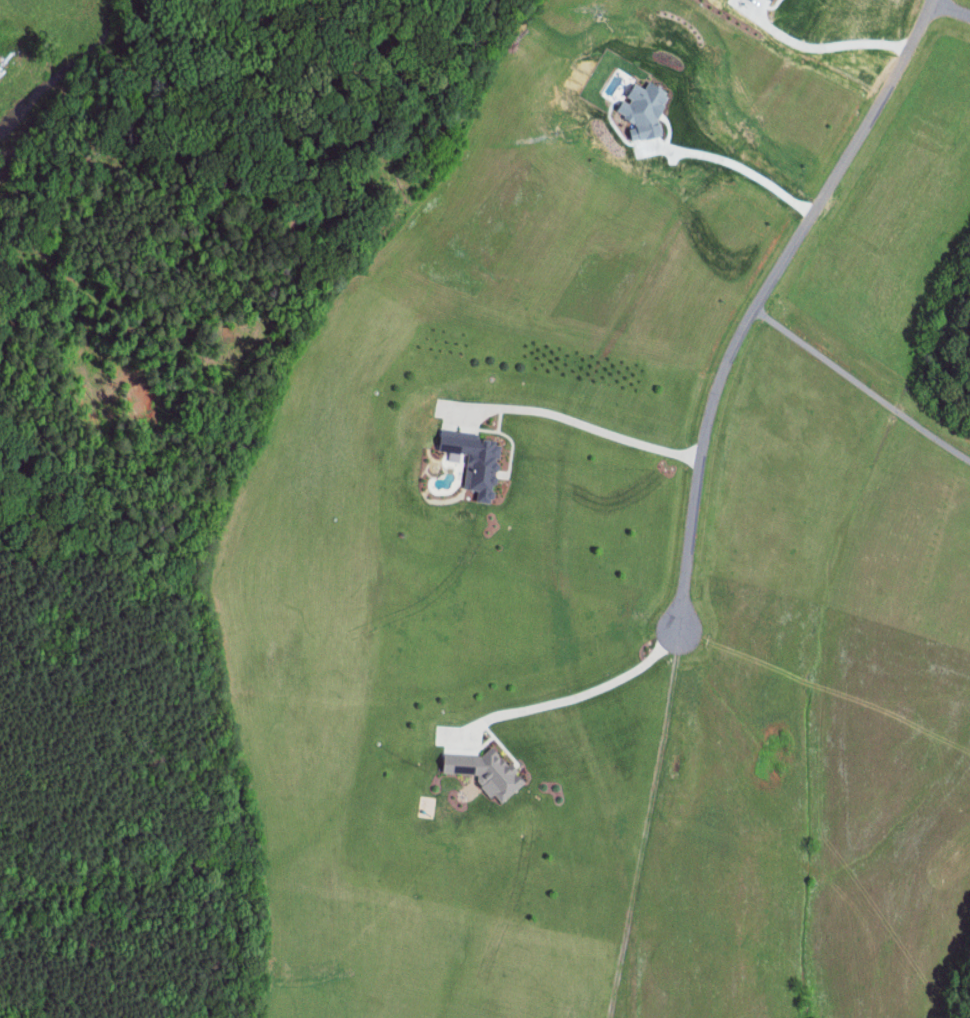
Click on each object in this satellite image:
building: (770, 0)
road: (950, 6)
road: (822, 48)
road: (761, 298)
road: (862, 384)
road: (574, 414)
road: (501, 417)
building: (470, 448)
road: (511, 455)
road: (564, 695)
building: (479, 763)

